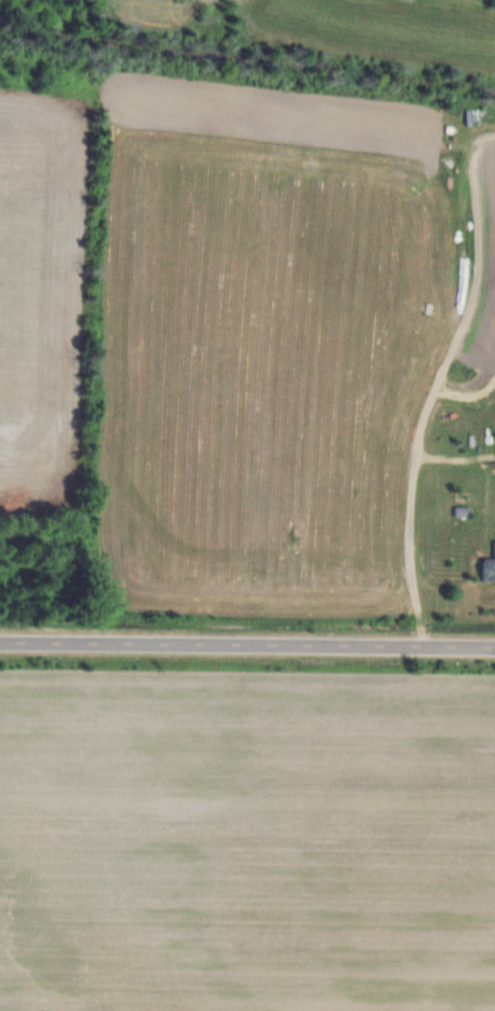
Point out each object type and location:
building: (489, 569)
road: (247, 651)

